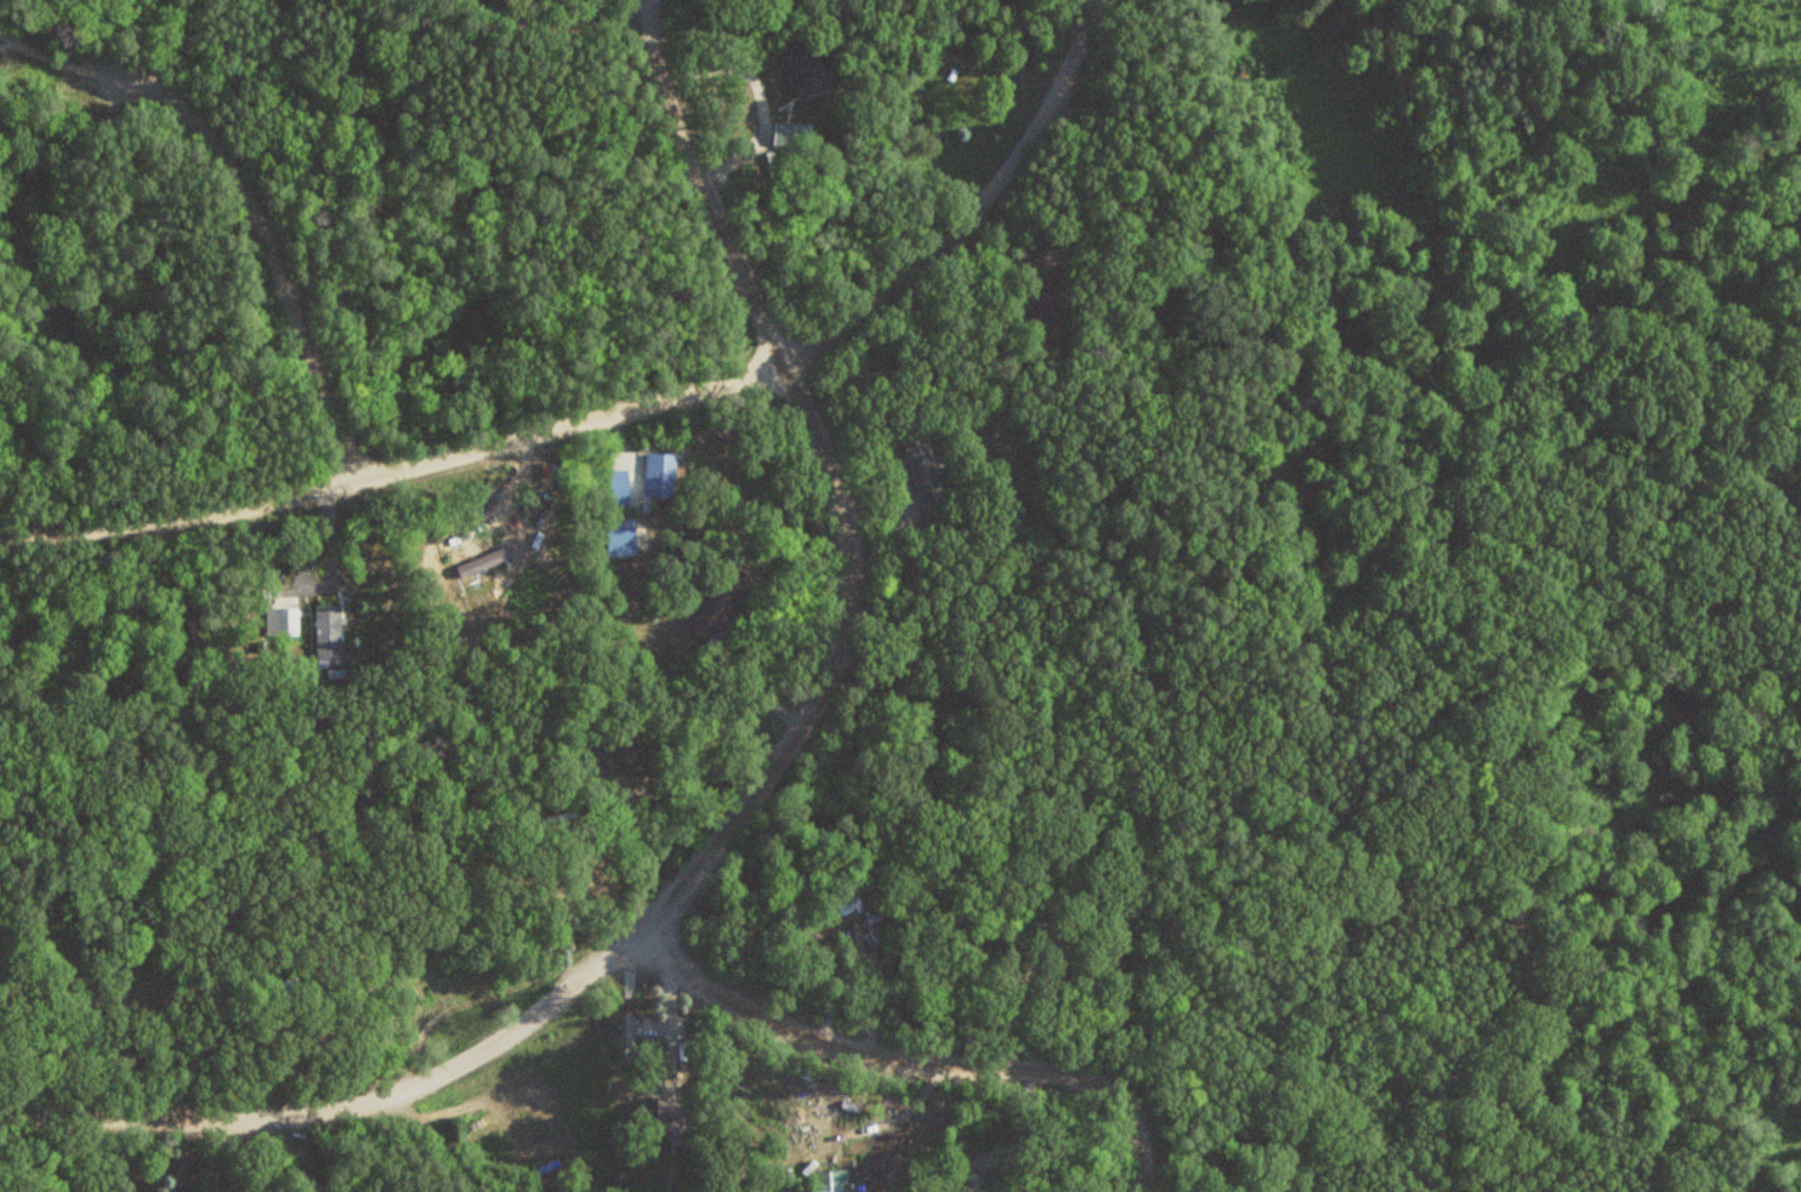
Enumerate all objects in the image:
building: (511, 16)
building: (806, 78)
building: (382, 109)
road: (970, 206)
road: (266, 252)
building: (1044, 300)
road: (393, 469)
building: (665, 472)
building: (926, 472)
building: (621, 486)
road: (834, 486)
building: (623, 539)
building: (487, 561)
building: (714, 611)
building: (283, 620)
building: (330, 632)
building: (592, 760)
building: (834, 908)
building: (1055, 933)
building: (640, 1031)
road: (915, 1060)
road: (341, 1109)
building: (670, 1116)
building: (831, 1181)

